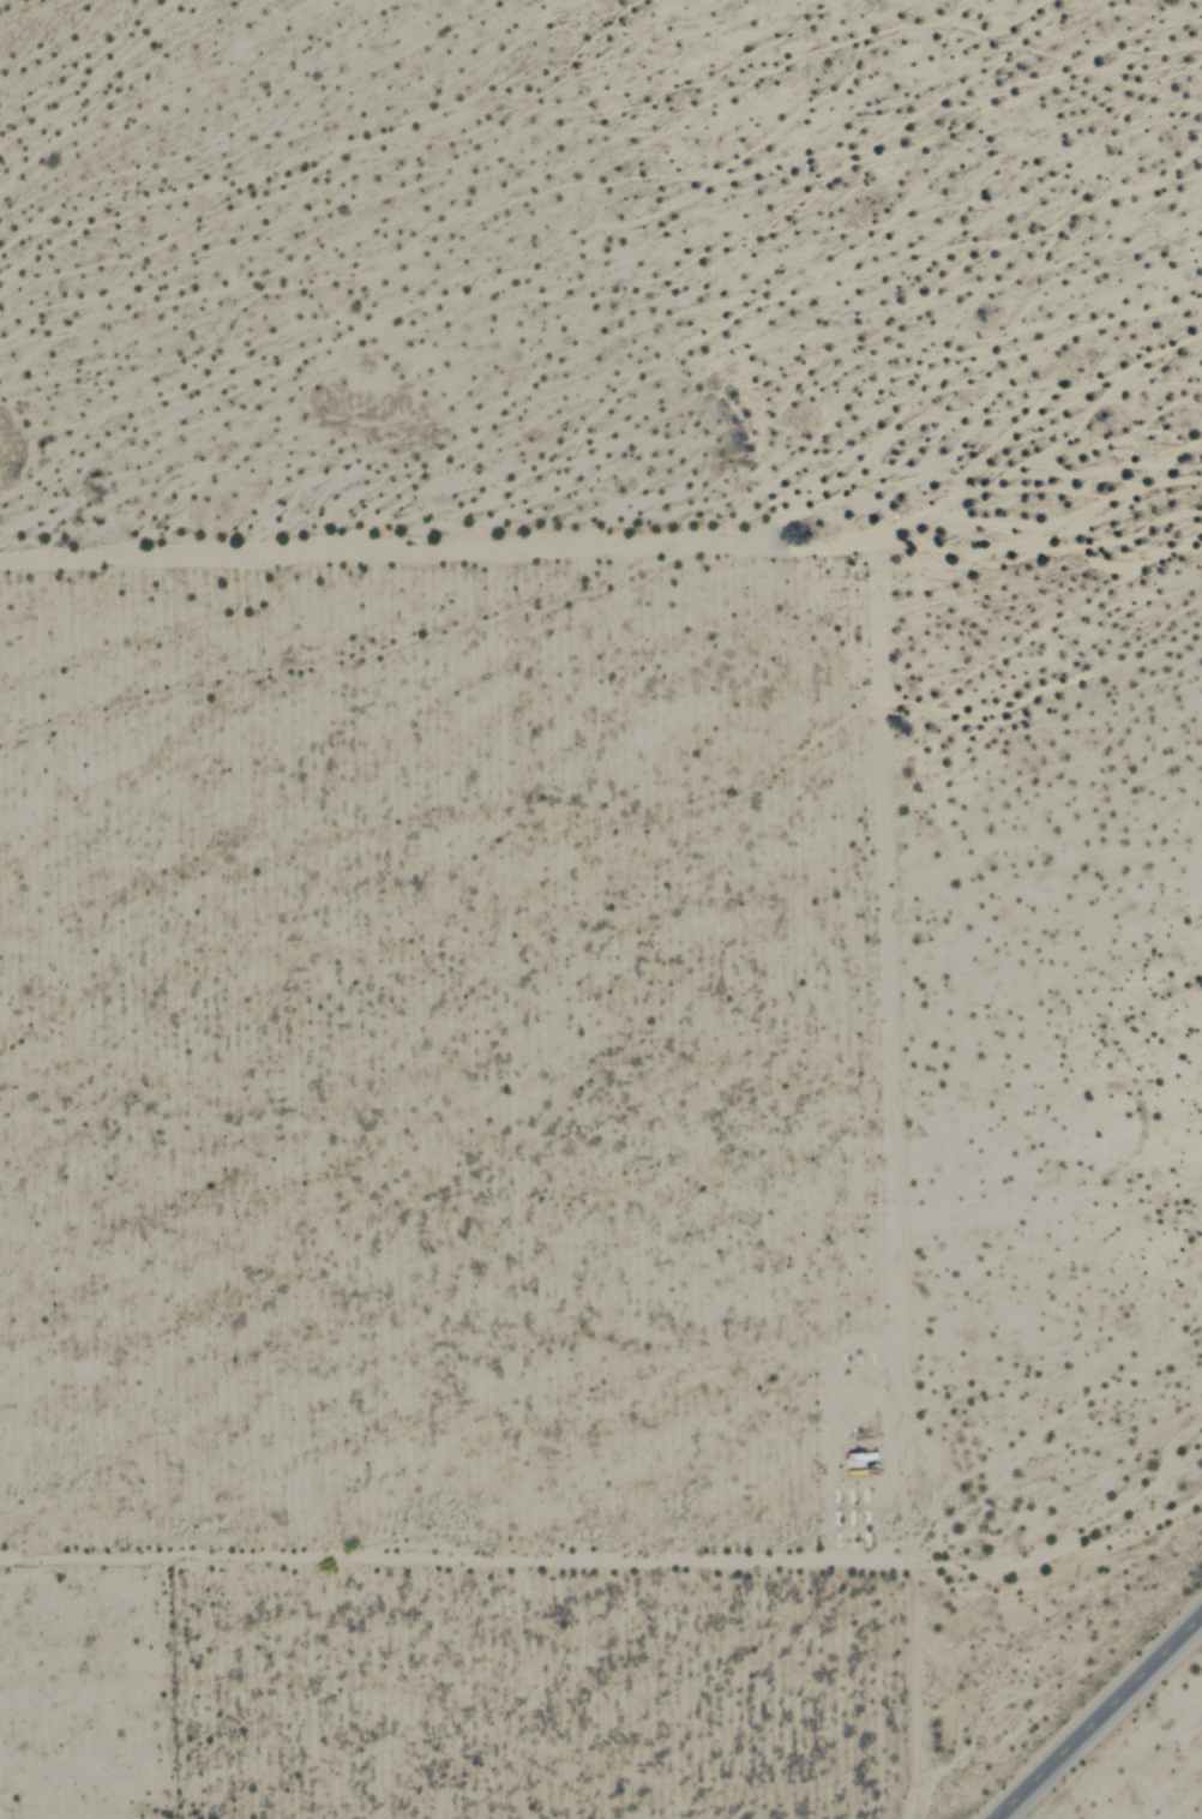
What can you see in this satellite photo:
road: (1098, 1716)

